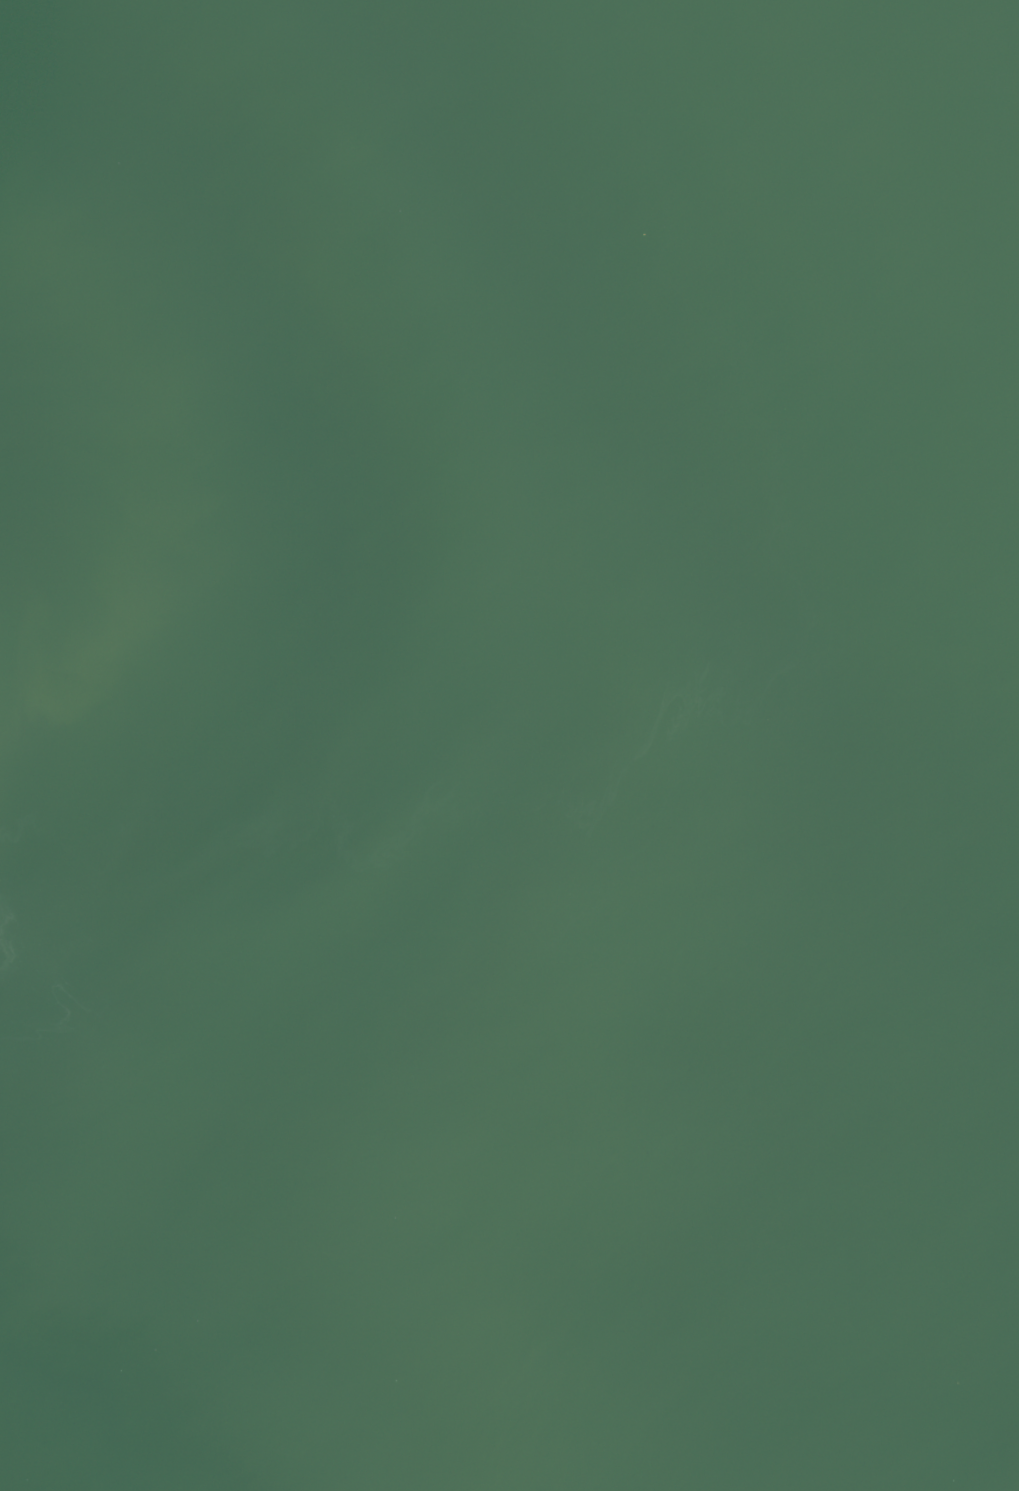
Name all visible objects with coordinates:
river: (489, 733)

